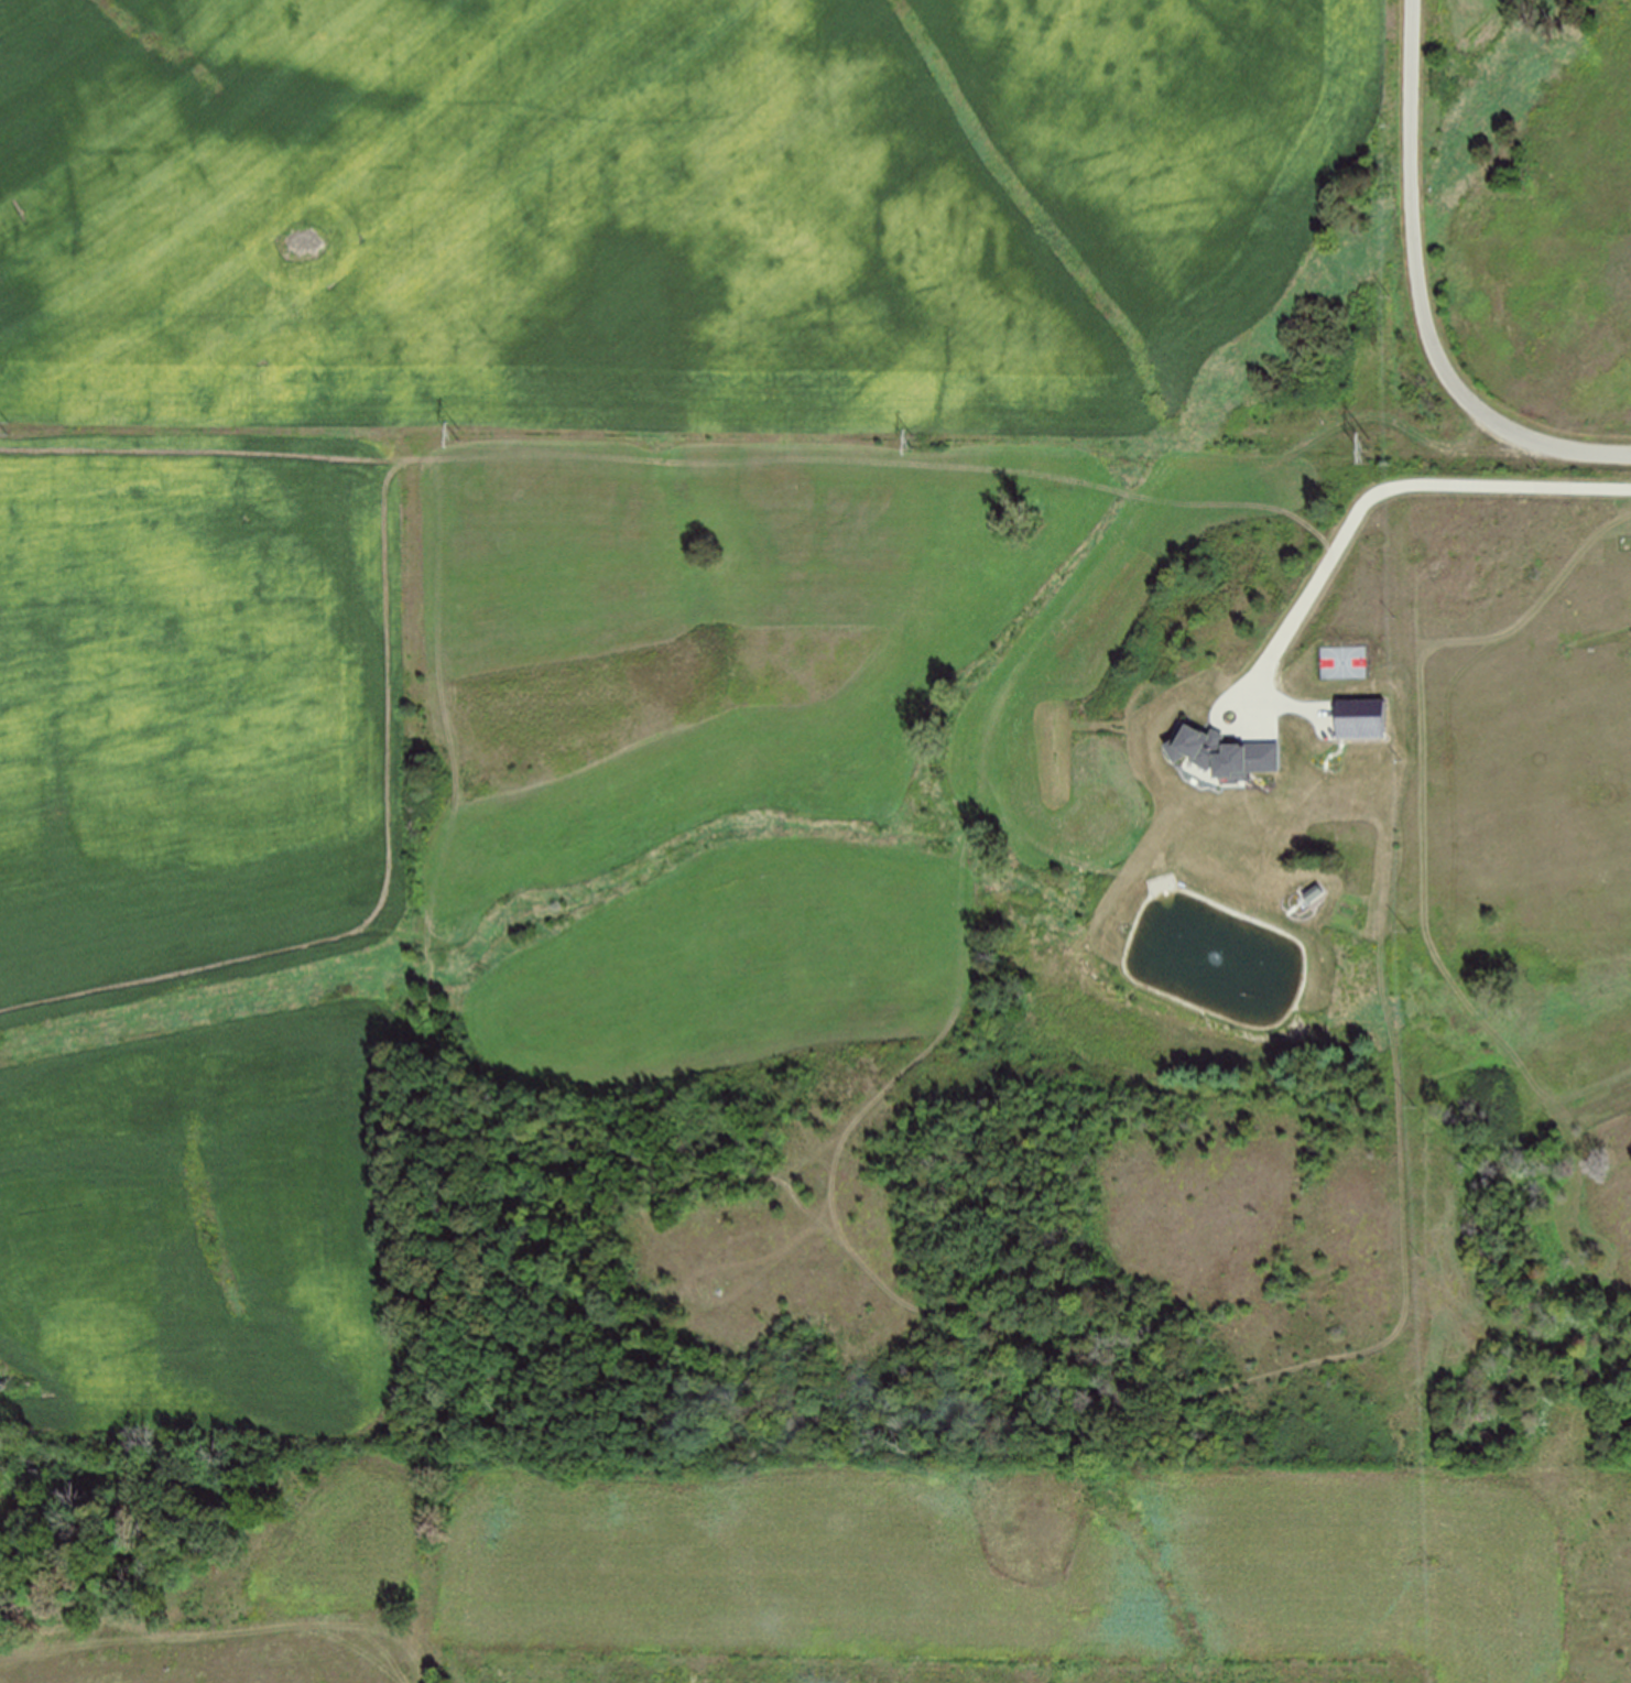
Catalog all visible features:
road: (1428, 292)
road: (1336, 555)
building: (1214, 872)

